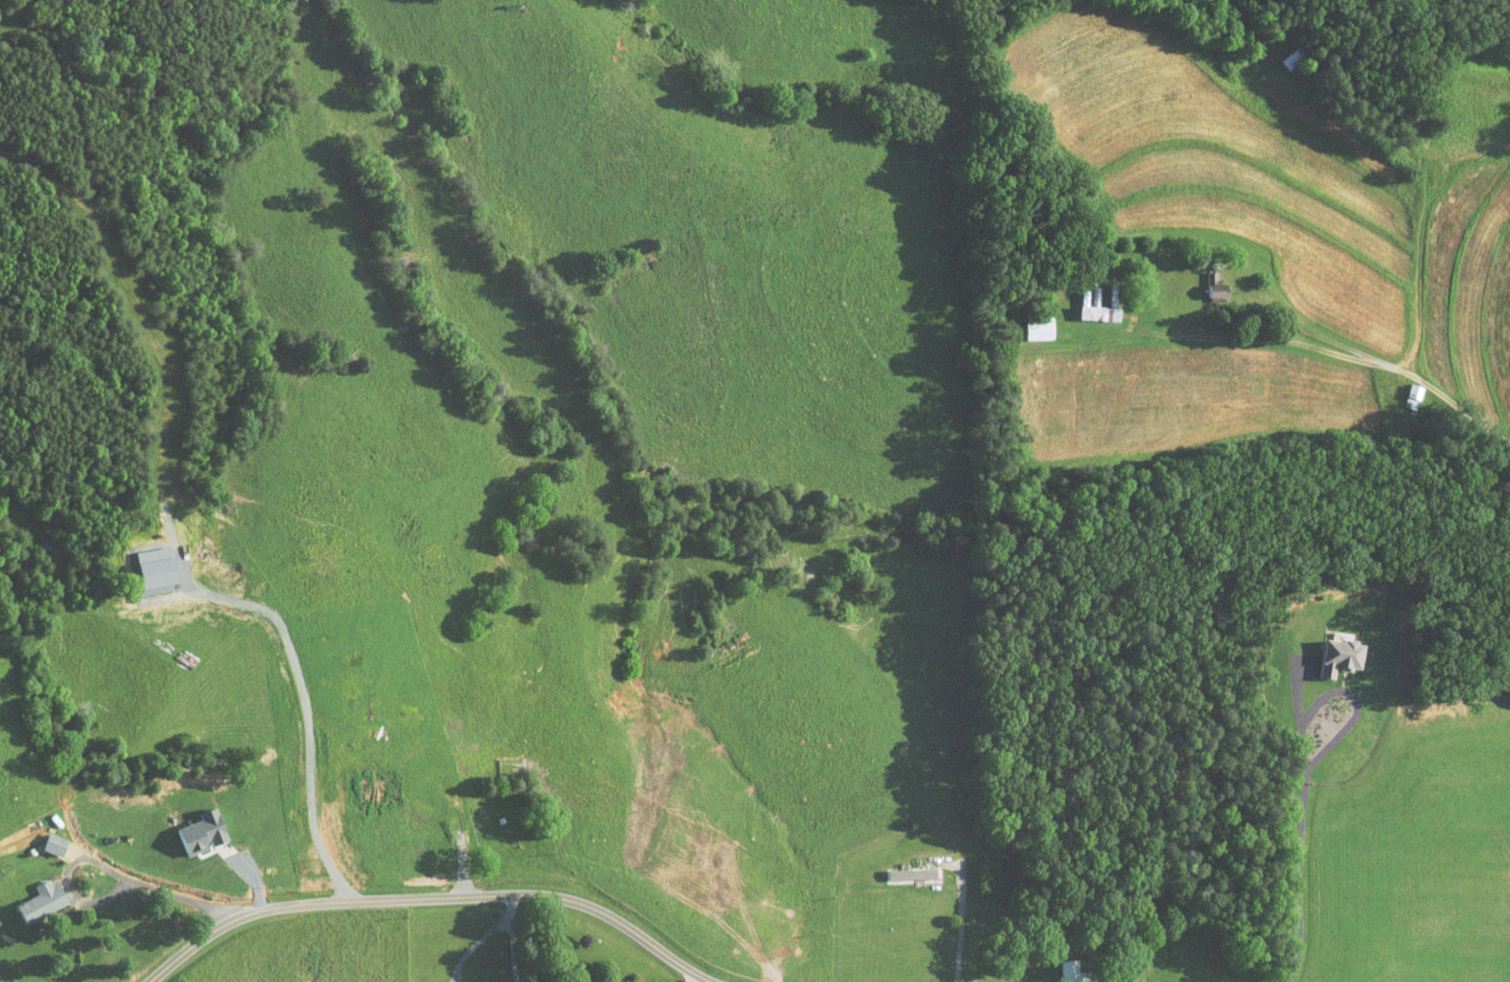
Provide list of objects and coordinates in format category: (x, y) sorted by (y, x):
building: (1196, 284)
building: (1094, 292)
building: (1078, 299)
building: (1022, 320)
road: (1314, 349)
building: (1318, 651)
road: (1345, 691)
building: (362, 783)
building: (47, 838)
road: (108, 867)
building: (896, 868)
road: (1299, 878)
road: (429, 894)
building: (34, 896)
road: (961, 922)
road: (513, 933)
building: (1053, 967)
building: (426, 979)
road: (694, 980)

